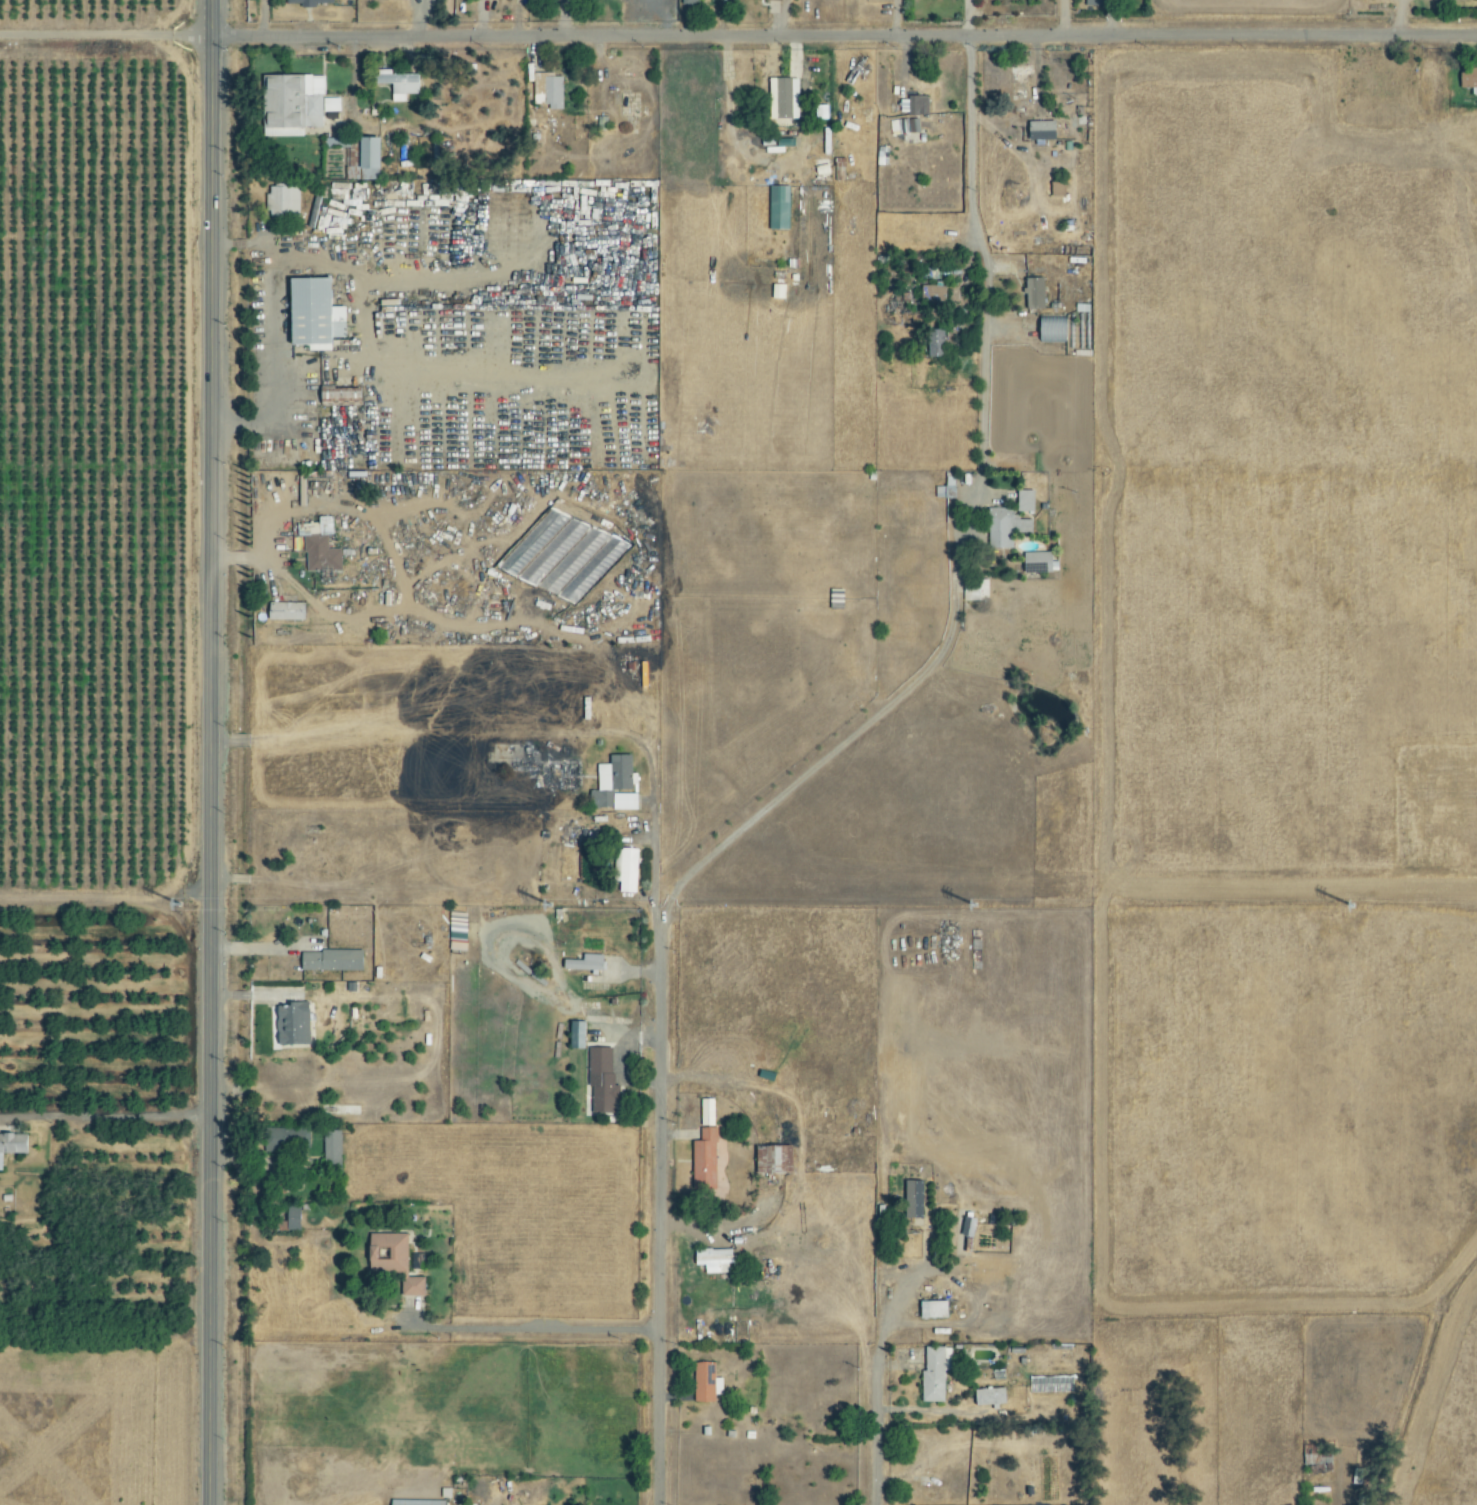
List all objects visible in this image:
building: (775, 0)
building: (310, 2)
building: (1091, 2)
road: (1061, 18)
road: (1110, 18)
road: (1393, 18)
road: (104, 36)
road: (843, 37)
building: (1467, 77)
building: (1018, 80)
building: (1373, 81)
building: (401, 84)
building: (549, 90)
building: (781, 97)
building: (297, 100)
building: (915, 105)
road: (727, 112)
building: (907, 126)
building: (1039, 130)
building: (337, 142)
building: (372, 157)
building: (1055, 189)
building: (284, 201)
building: (776, 207)
road: (237, 243)
road: (219, 244)
road: (975, 251)
building: (1077, 252)
building: (1032, 293)
building: (928, 294)
building: (318, 314)
building: (1049, 329)
building: (932, 342)
road: (275, 349)
building: (343, 396)
building: (1023, 501)
road: (970, 503)
building: (1003, 528)
building: (321, 545)
road: (236, 558)
road: (255, 558)
road: (217, 559)
building: (289, 611)
road: (536, 733)
road: (240, 741)
road: (219, 742)
road: (837, 746)
road: (209, 752)
building: (561, 775)
building: (615, 785)
power tower: (188, 905)
power tower: (587, 906)
power tower: (983, 906)
power tower: (1360, 907)
road: (265, 945)
building: (333, 960)
building: (585, 965)
building: (294, 1024)
building: (580, 1035)
building: (604, 1081)
building: (708, 1112)
road: (104, 1115)
building: (14, 1145)
building: (334, 1150)
building: (706, 1160)
building: (776, 1160)
building: (916, 1199)
road: (657, 1214)
road: (754, 1215)
building: (295, 1218)
road: (689, 1222)
building: (717, 1260)
building: (395, 1261)
building: (929, 1309)
road: (892, 1310)
road: (535, 1328)
building: (933, 1372)
building: (707, 1383)
building: (987, 1396)
road: (931, 1409)
road: (875, 1433)
building: (420, 1502)

